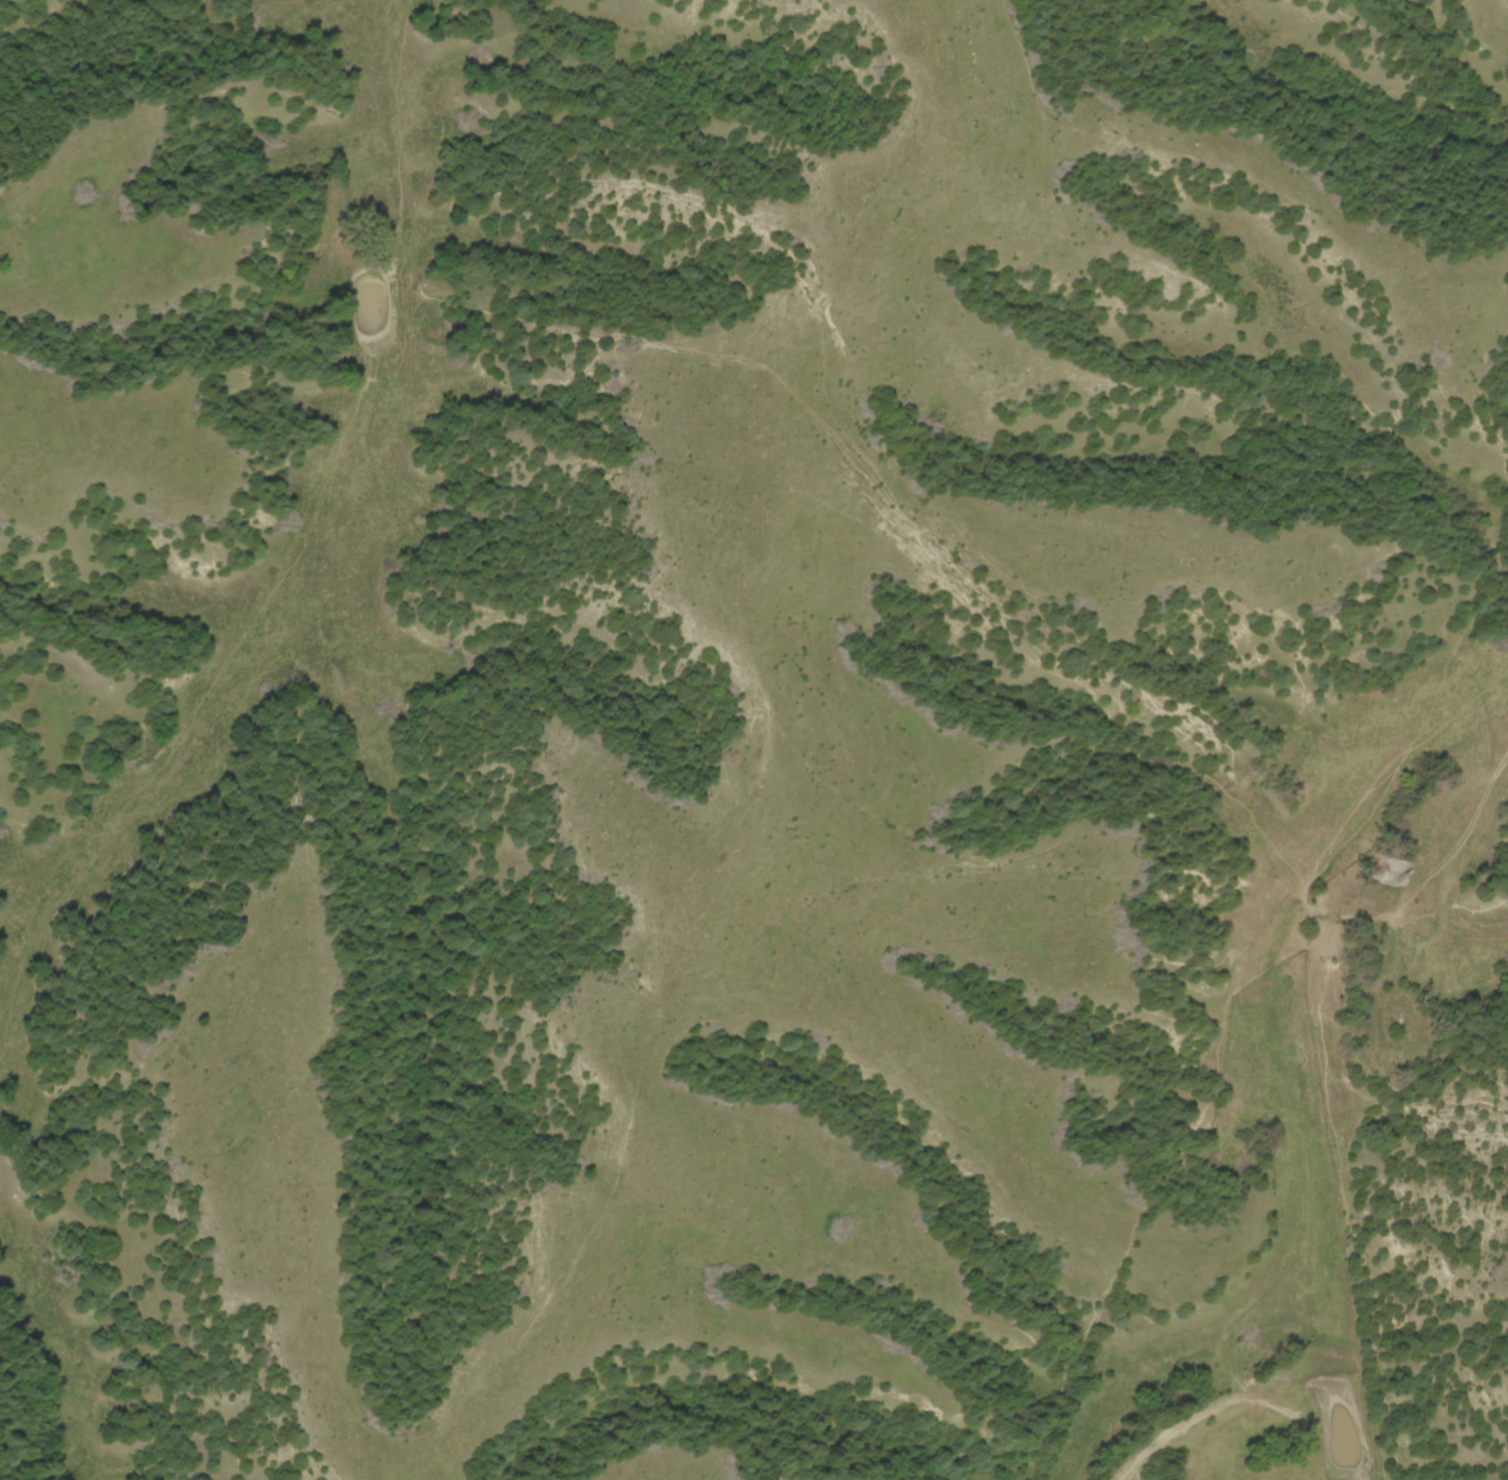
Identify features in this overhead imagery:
road: (1474, 816)
building: (1391, 867)

